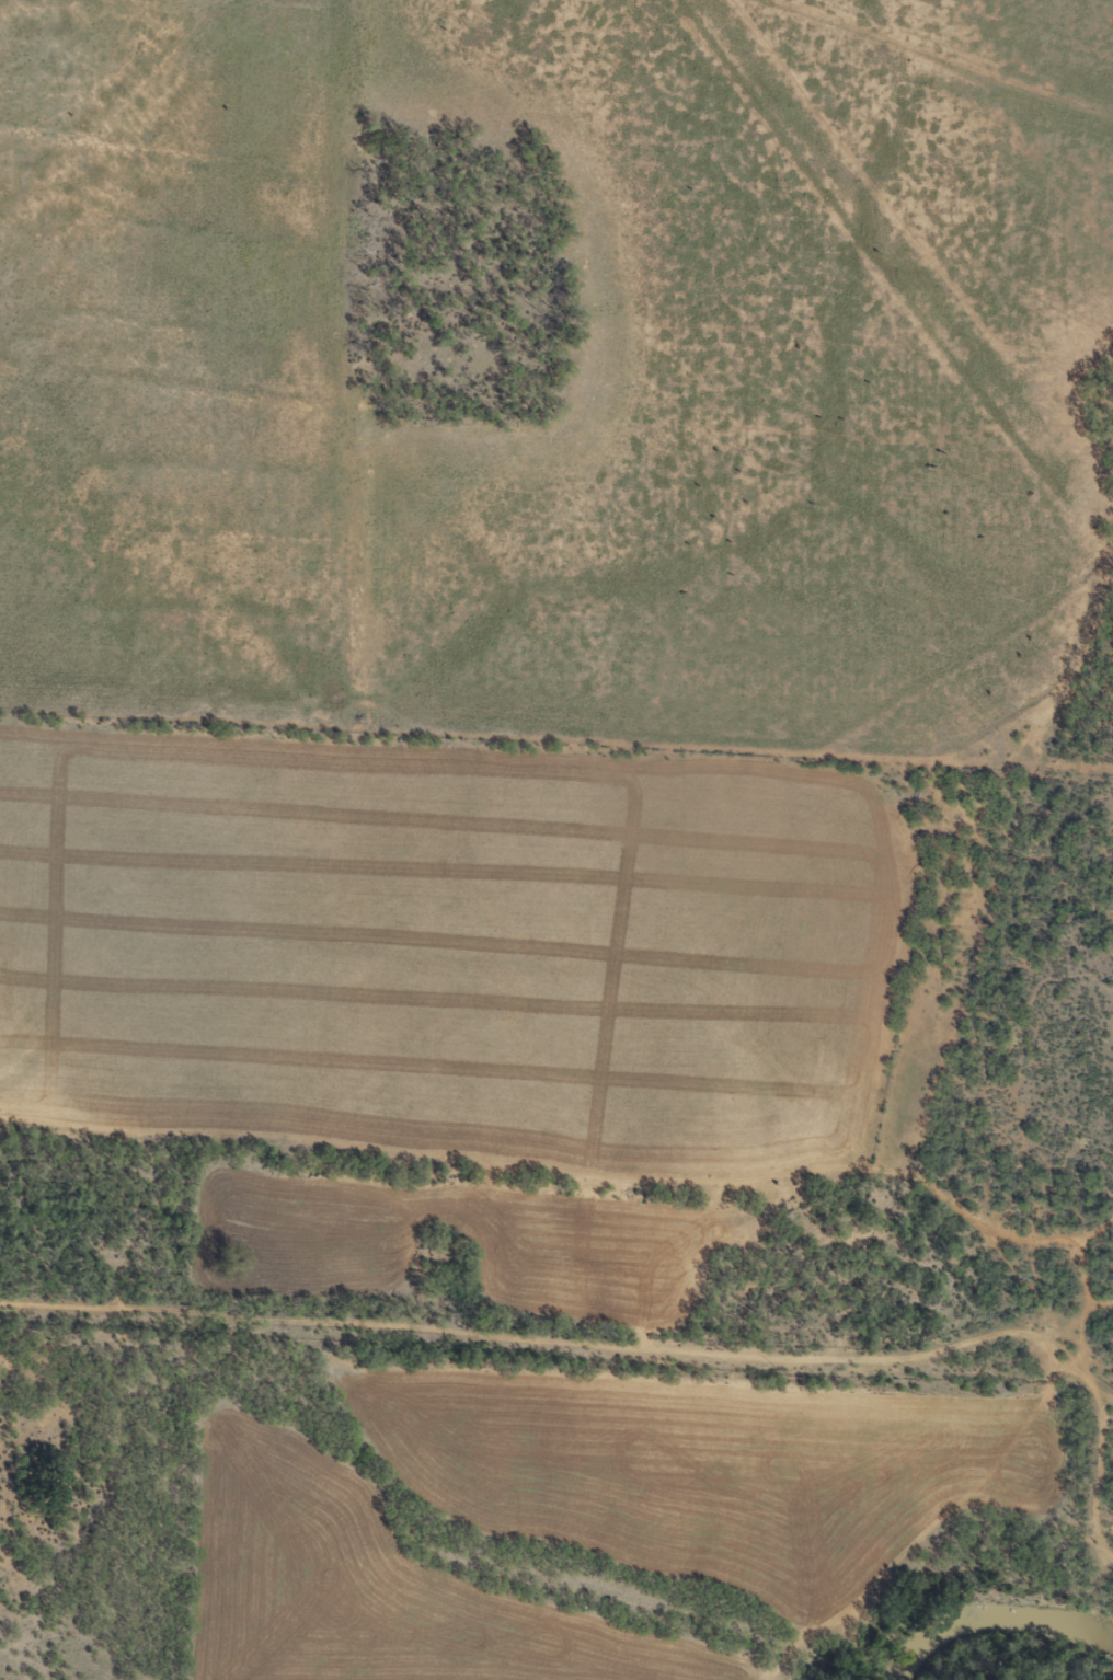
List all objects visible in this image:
road: (558, 1338)

